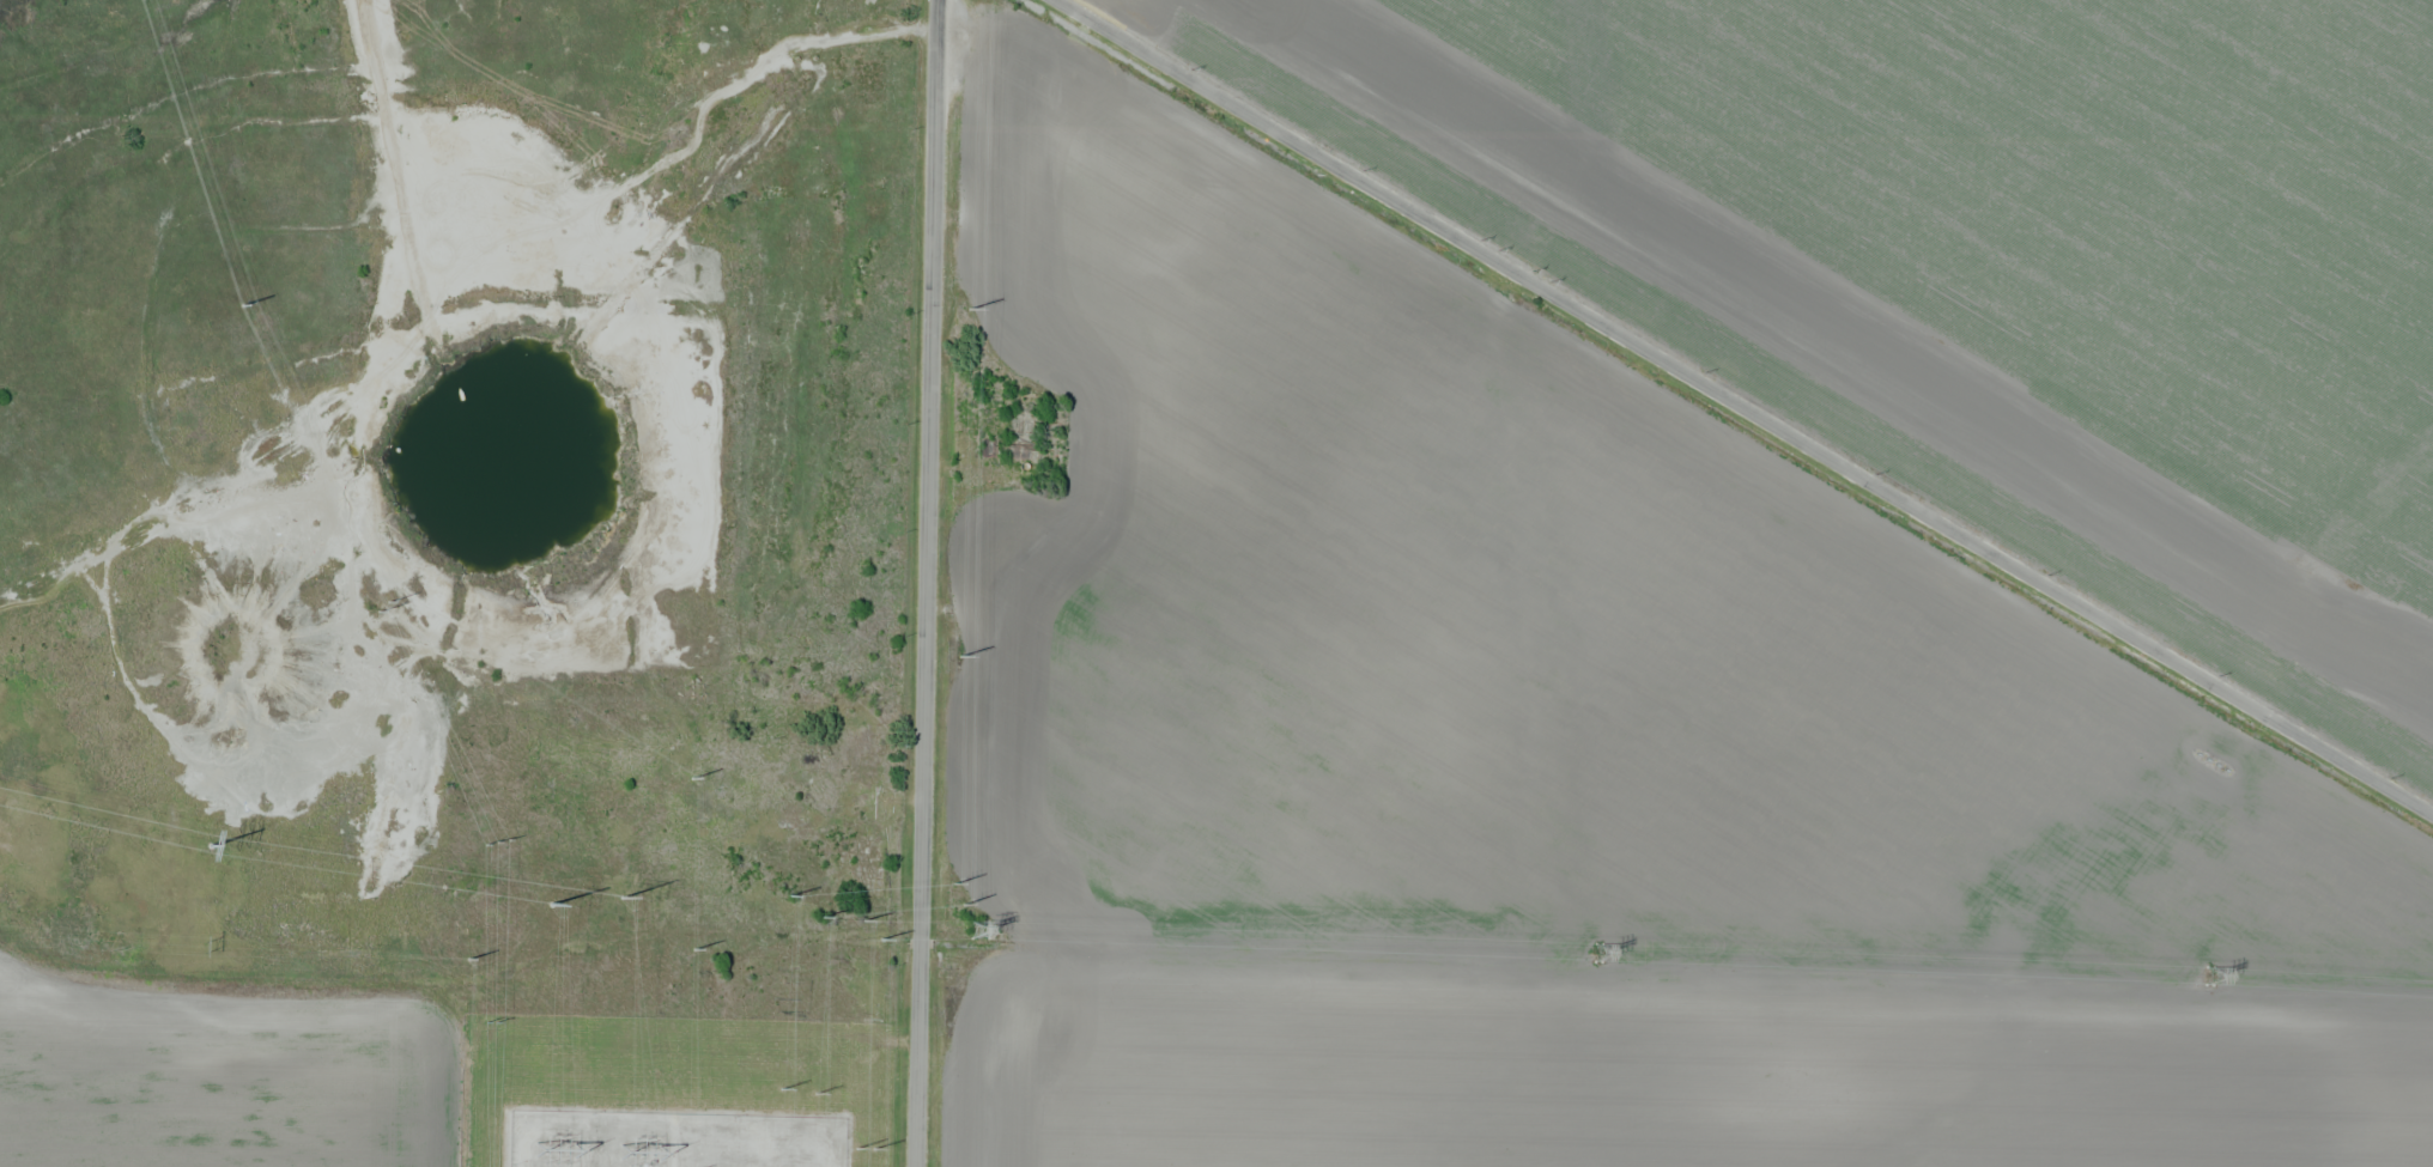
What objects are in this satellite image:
power tower: (243, 306)
power tower: (970, 310)
road: (929, 394)
road: (1747, 395)
building: (1021, 452)
road: (126, 537)
power tower: (387, 613)
power tower: (960, 657)
power tower: (692, 779)
power tower: (497, 840)
power tower: (210, 845)
power tower: (954, 885)
power tower: (789, 895)
power tower: (621, 898)
power tower: (551, 904)
power tower: (964, 905)
power tower: (820, 917)
power tower: (863, 920)
power tower: (979, 930)
power tower: (881, 940)
power tower: (201, 946)
power tower: (694, 949)
power tower: (1598, 952)
power tower: (468, 958)
power tower: (2211, 973)
road: (917, 978)
power tower: (491, 1021)
power tower: (781, 1088)
power tower: (815, 1093)
building: (633, 1128)
power substation: (671, 1139)
power tower: (856, 1148)
power tower: (874, 1149)

